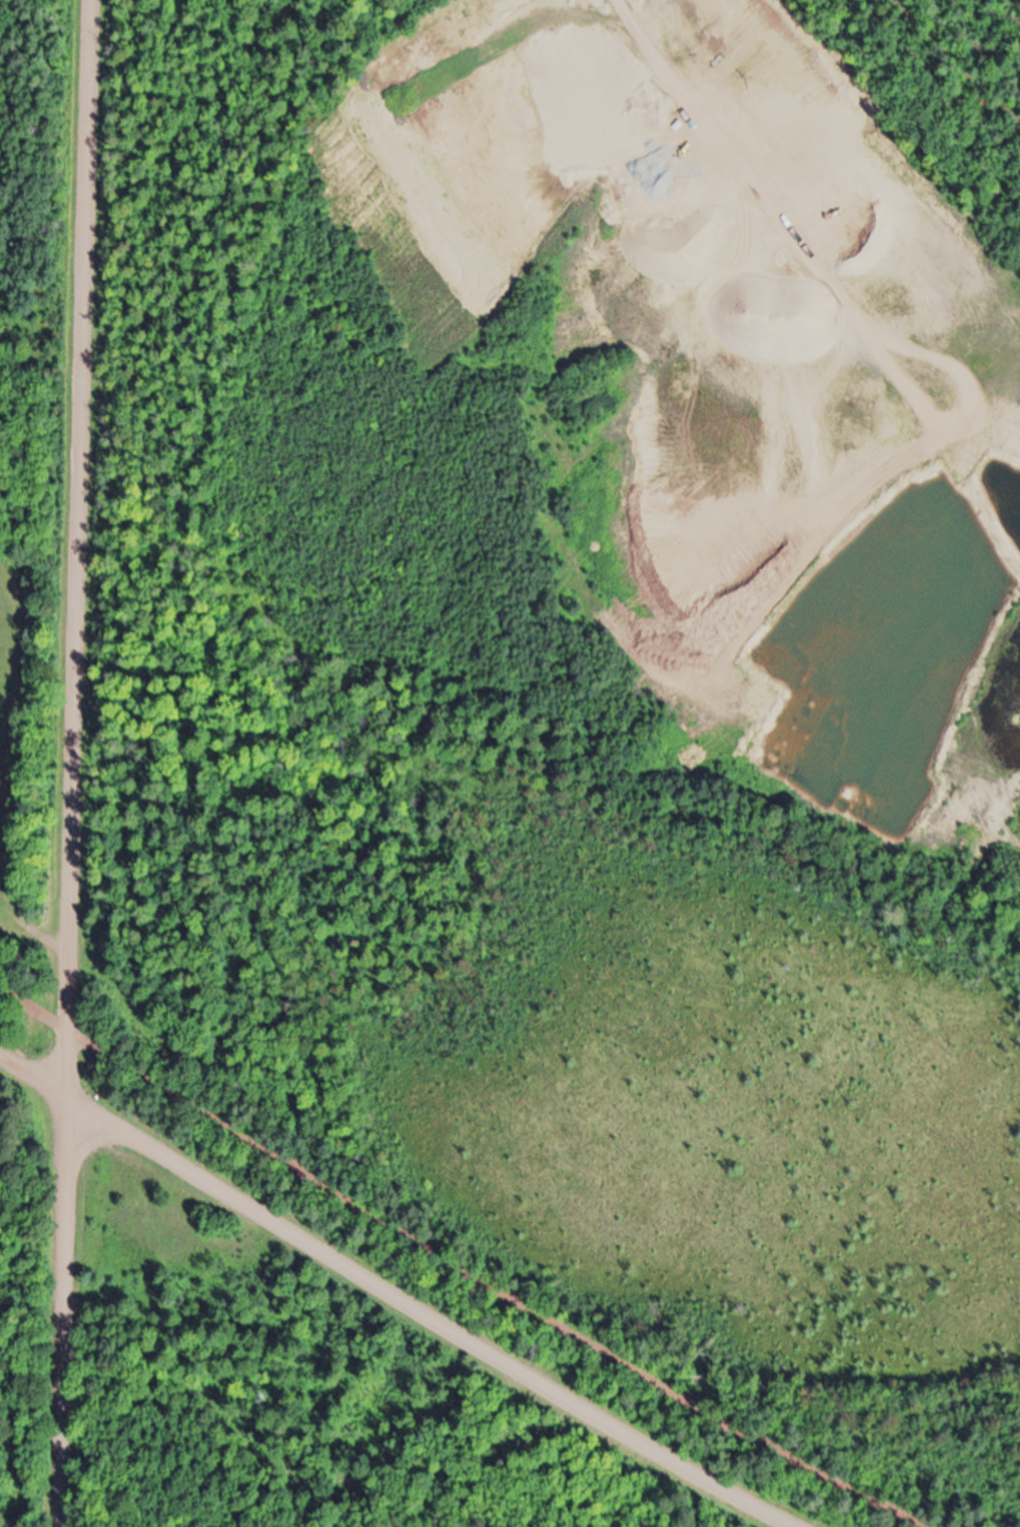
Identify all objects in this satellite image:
quarry: (577, 630)
road: (74, 763)
road: (462, 1267)
road: (394, 1298)

